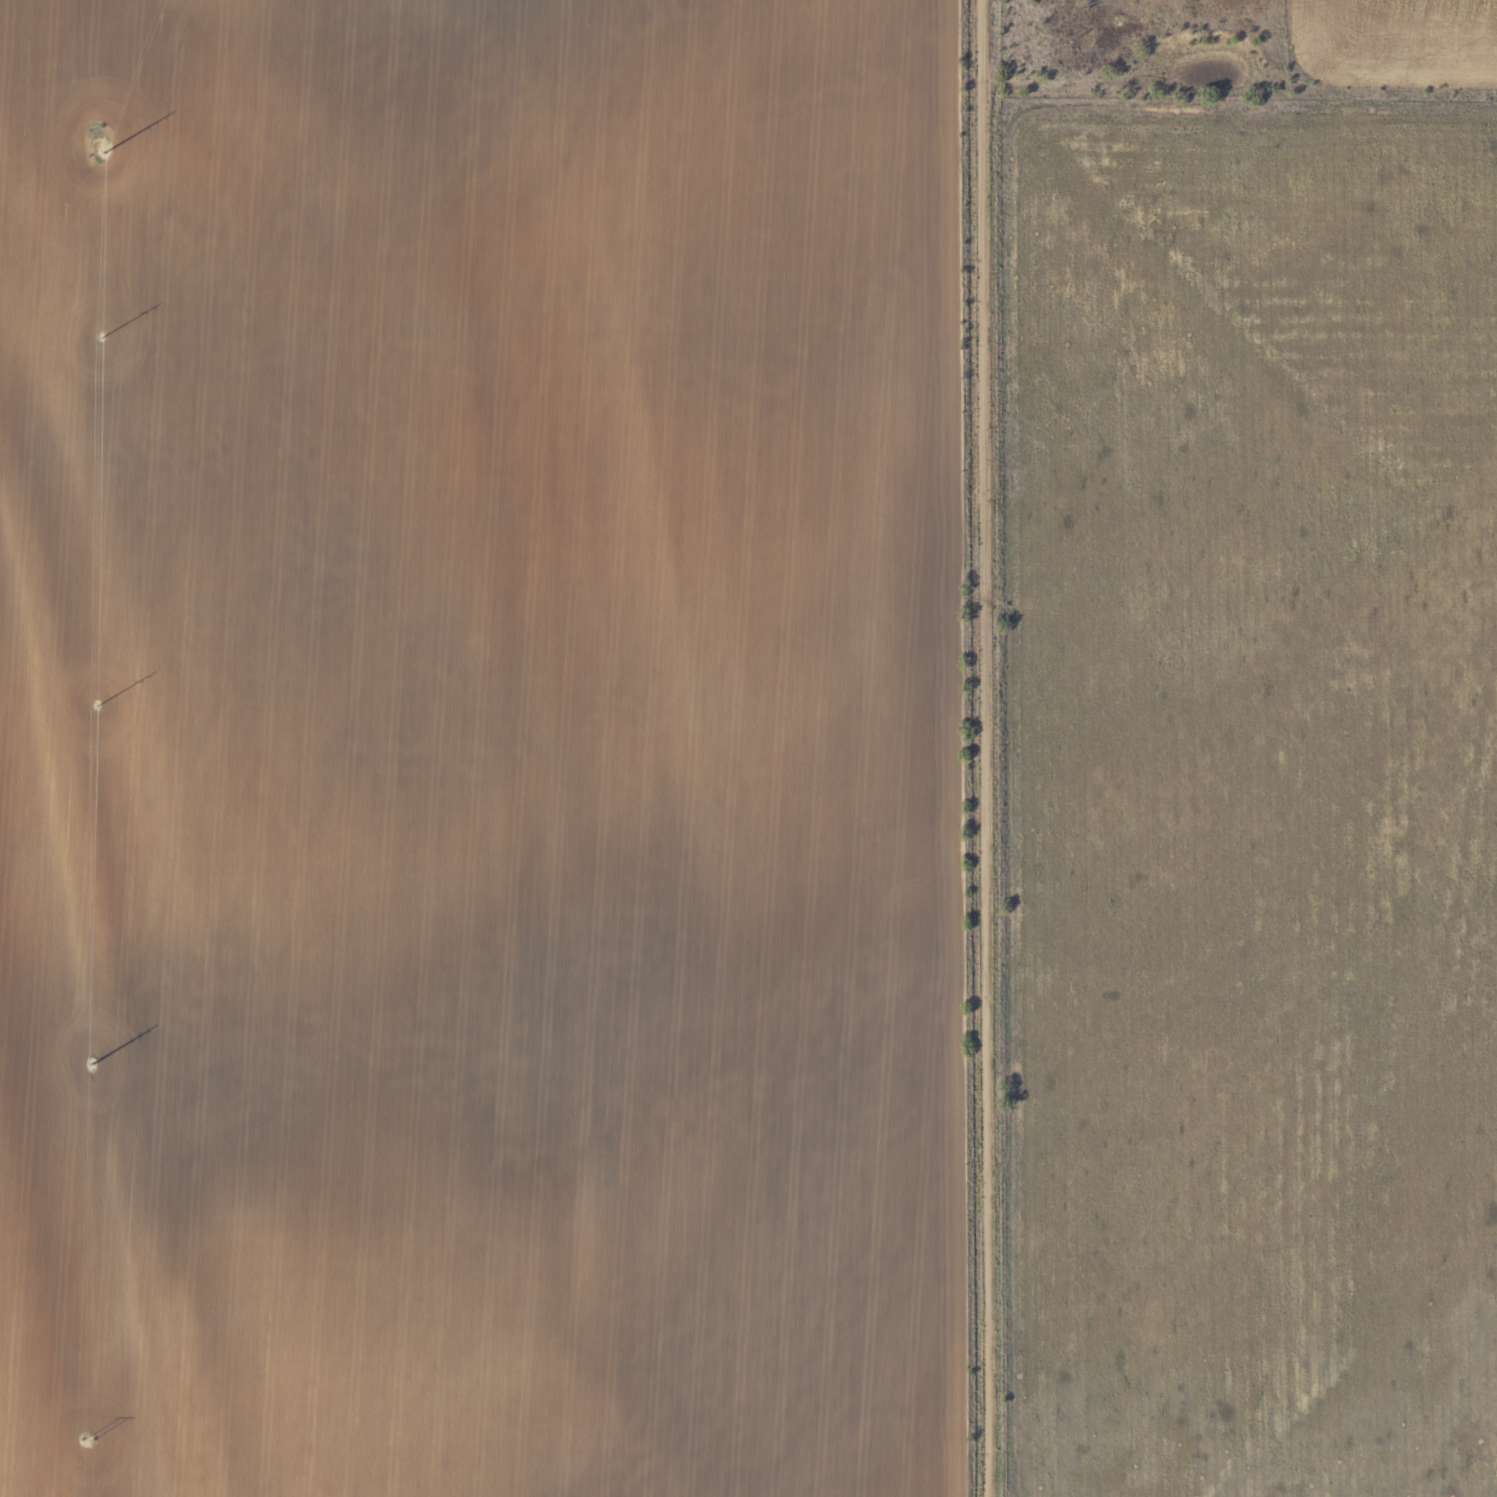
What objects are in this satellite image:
power tower: (103, 148)
power tower: (101, 333)
power tower: (96, 701)
road: (969, 748)
power tower: (92, 1071)
power tower: (87, 1441)

